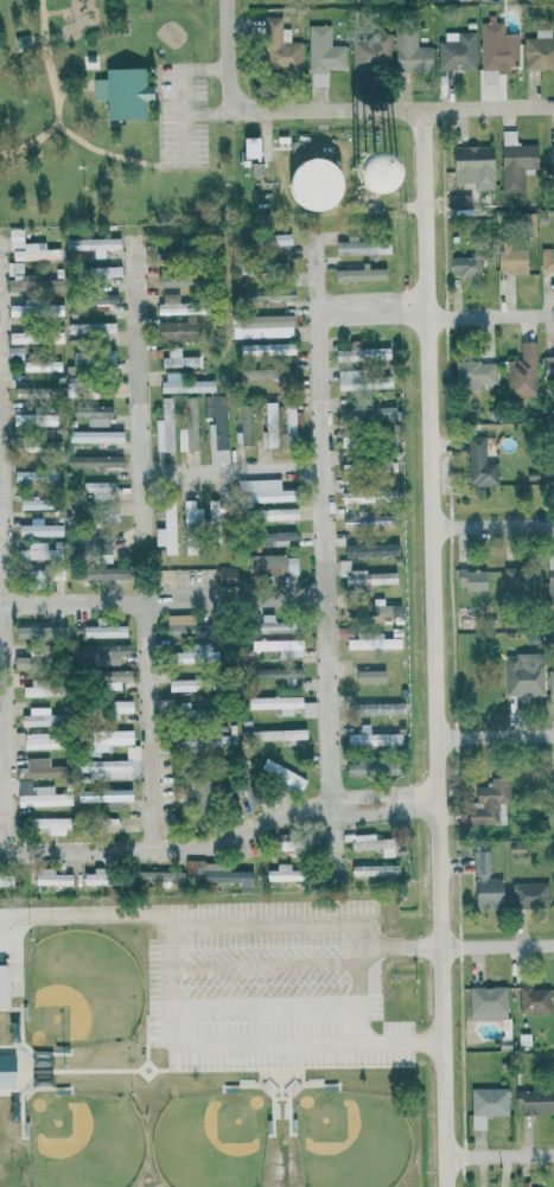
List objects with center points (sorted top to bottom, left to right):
road: (58, 11)
building: (496, 45)
building: (279, 46)
building: (321, 49)
building: (408, 49)
building: (456, 50)
building: (539, 50)
building: (368, 52)
road: (227, 56)
road: (75, 84)
building: (121, 91)
road: (58, 92)
road: (182, 94)
road: (391, 108)
road: (205, 111)
road: (160, 114)
park: (109, 116)
parking lot: (182, 116)
building: (248, 146)
road: (96, 149)
building: (550, 157)
building: (512, 161)
road: (148, 162)
road: (157, 164)
building: (471, 164)
building: (324, 179)
building: (460, 204)
building: (526, 222)
building: (278, 238)
building: (93, 244)
building: (361, 247)
building: (24, 249)
building: (510, 259)
building: (546, 260)
building: (464, 264)
building: (102, 272)
building: (359, 273)
building: (18, 277)
building: (165, 280)
building: (266, 294)
building: (101, 298)
building: (170, 304)
building: (18, 309)
road: (492, 312)
road: (377, 317)
building: (260, 325)
building: (90, 327)
building: (176, 331)
building: (55, 336)
building: (15, 337)
building: (265, 347)
building: (12, 351)
building: (362, 353)
building: (91, 356)
building: (177, 358)
building: (40, 365)
building: (547, 366)
building: (521, 372)
building: (266, 374)
building: (472, 374)
building: (363, 382)
building: (185, 385)
building: (21, 391)
road: (136, 396)
building: (364, 413)
building: (91, 414)
building: (268, 414)
building: (34, 419)
building: (291, 420)
building: (244, 423)
building: (163, 426)
building: (187, 426)
building: (215, 428)
building: (94, 435)
building: (346, 440)
building: (93, 460)
building: (478, 462)
road: (244, 473)
building: (546, 473)
building: (33, 476)
building: (97, 487)
building: (260, 491)
building: (33, 503)
building: (190, 511)
building: (107, 512)
building: (270, 513)
building: (362, 519)
building: (214, 522)
road: (496, 523)
road: (331, 525)
road: (2, 528)
building: (165, 528)
building: (38, 529)
building: (275, 538)
building: (91, 545)
building: (369, 549)
building: (40, 550)
building: (270, 564)
building: (97, 572)
building: (53, 573)
building: (224, 574)
building: (364, 575)
building: (32, 577)
building: (470, 577)
building: (516, 579)
building: (549, 579)
road: (5, 581)
road: (166, 608)
building: (381, 608)
building: (270, 624)
building: (40, 627)
building: (102, 630)
building: (183, 630)
building: (365, 638)
building: (278, 646)
road: (437, 646)
building: (98, 653)
building: (193, 655)
building: (275, 672)
building: (522, 674)
building: (368, 675)
building: (109, 676)
building: (550, 681)
building: (182, 684)
building: (34, 688)
building: (274, 703)
building: (116, 708)
building: (307, 708)
building: (374, 708)
building: (38, 717)
building: (278, 734)
road: (495, 735)
road: (157, 738)
building: (370, 738)
building: (104, 739)
building: (39, 740)
building: (199, 740)
building: (113, 765)
building: (370, 766)
building: (37, 768)
building: (280, 777)
building: (550, 786)
building: (103, 793)
building: (198, 793)
building: (39, 794)
building: (489, 799)
building: (110, 822)
building: (50, 824)
road: (333, 844)
road: (222, 857)
building: (374, 869)
building: (281, 873)
building: (217, 875)
building: (50, 876)
building: (106, 876)
building: (157, 876)
building: (6, 879)
building: (484, 882)
building: (528, 894)
road: (231, 930)
road: (497, 944)
building: (1, 985)
building: (533, 998)
road: (364, 1001)
building: (486, 1002)
road: (246, 1051)
building: (6, 1071)
building: (533, 1102)
building: (486, 1104)
road: (499, 1153)
building: (523, 1185)

